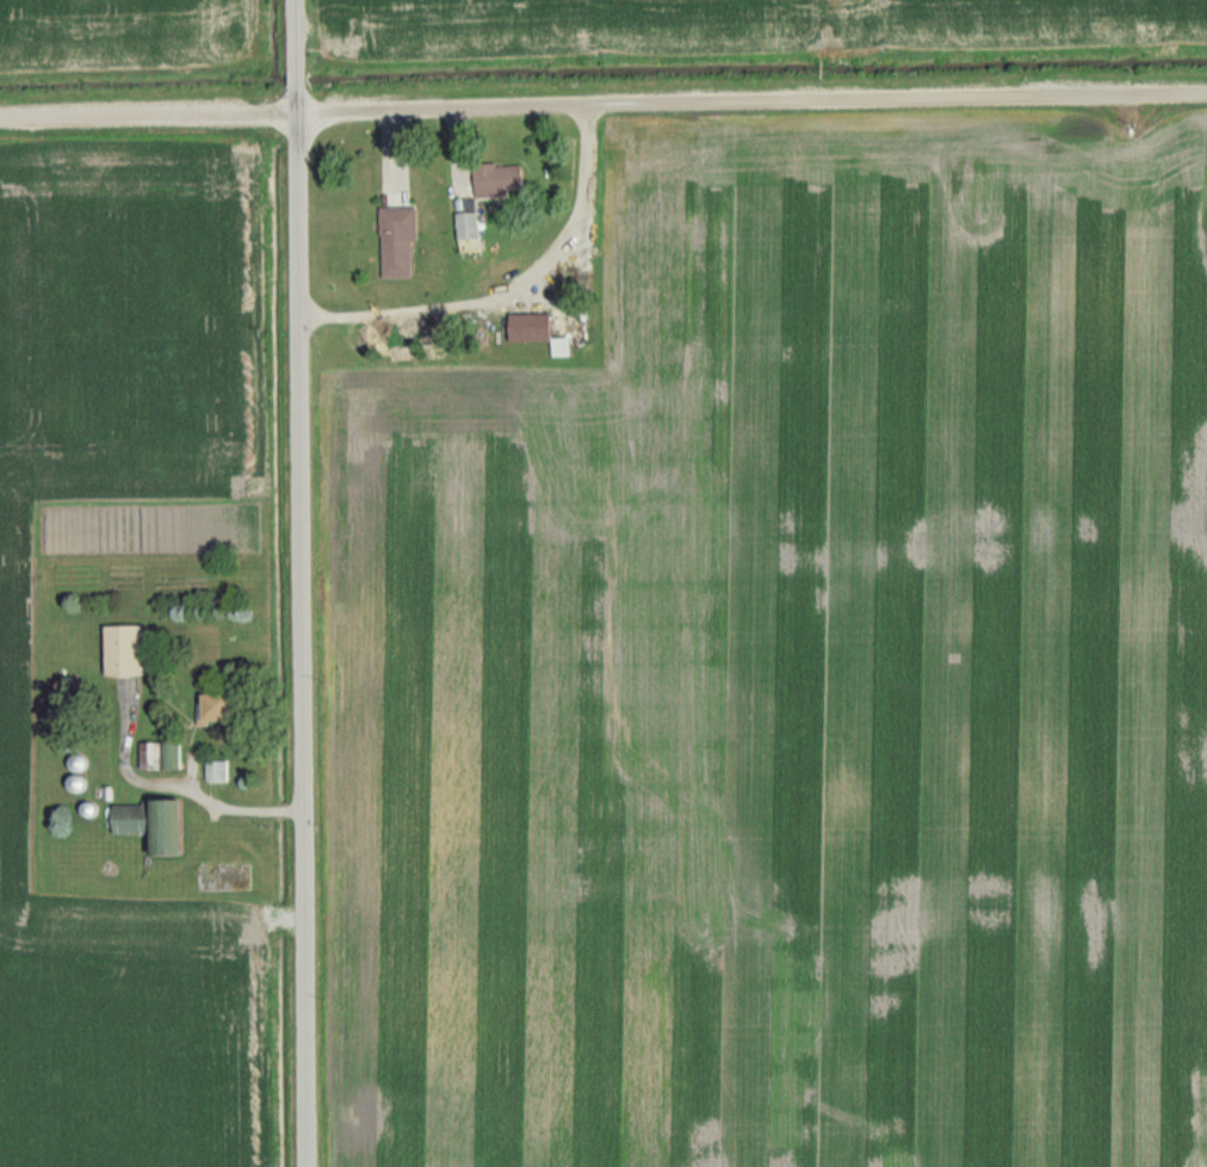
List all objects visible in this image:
road: (602, 104)
building: (491, 180)
building: (466, 223)
building: (398, 242)
road: (509, 285)
building: (538, 332)
road: (305, 582)
building: (124, 652)
building: (215, 771)
road: (180, 790)

